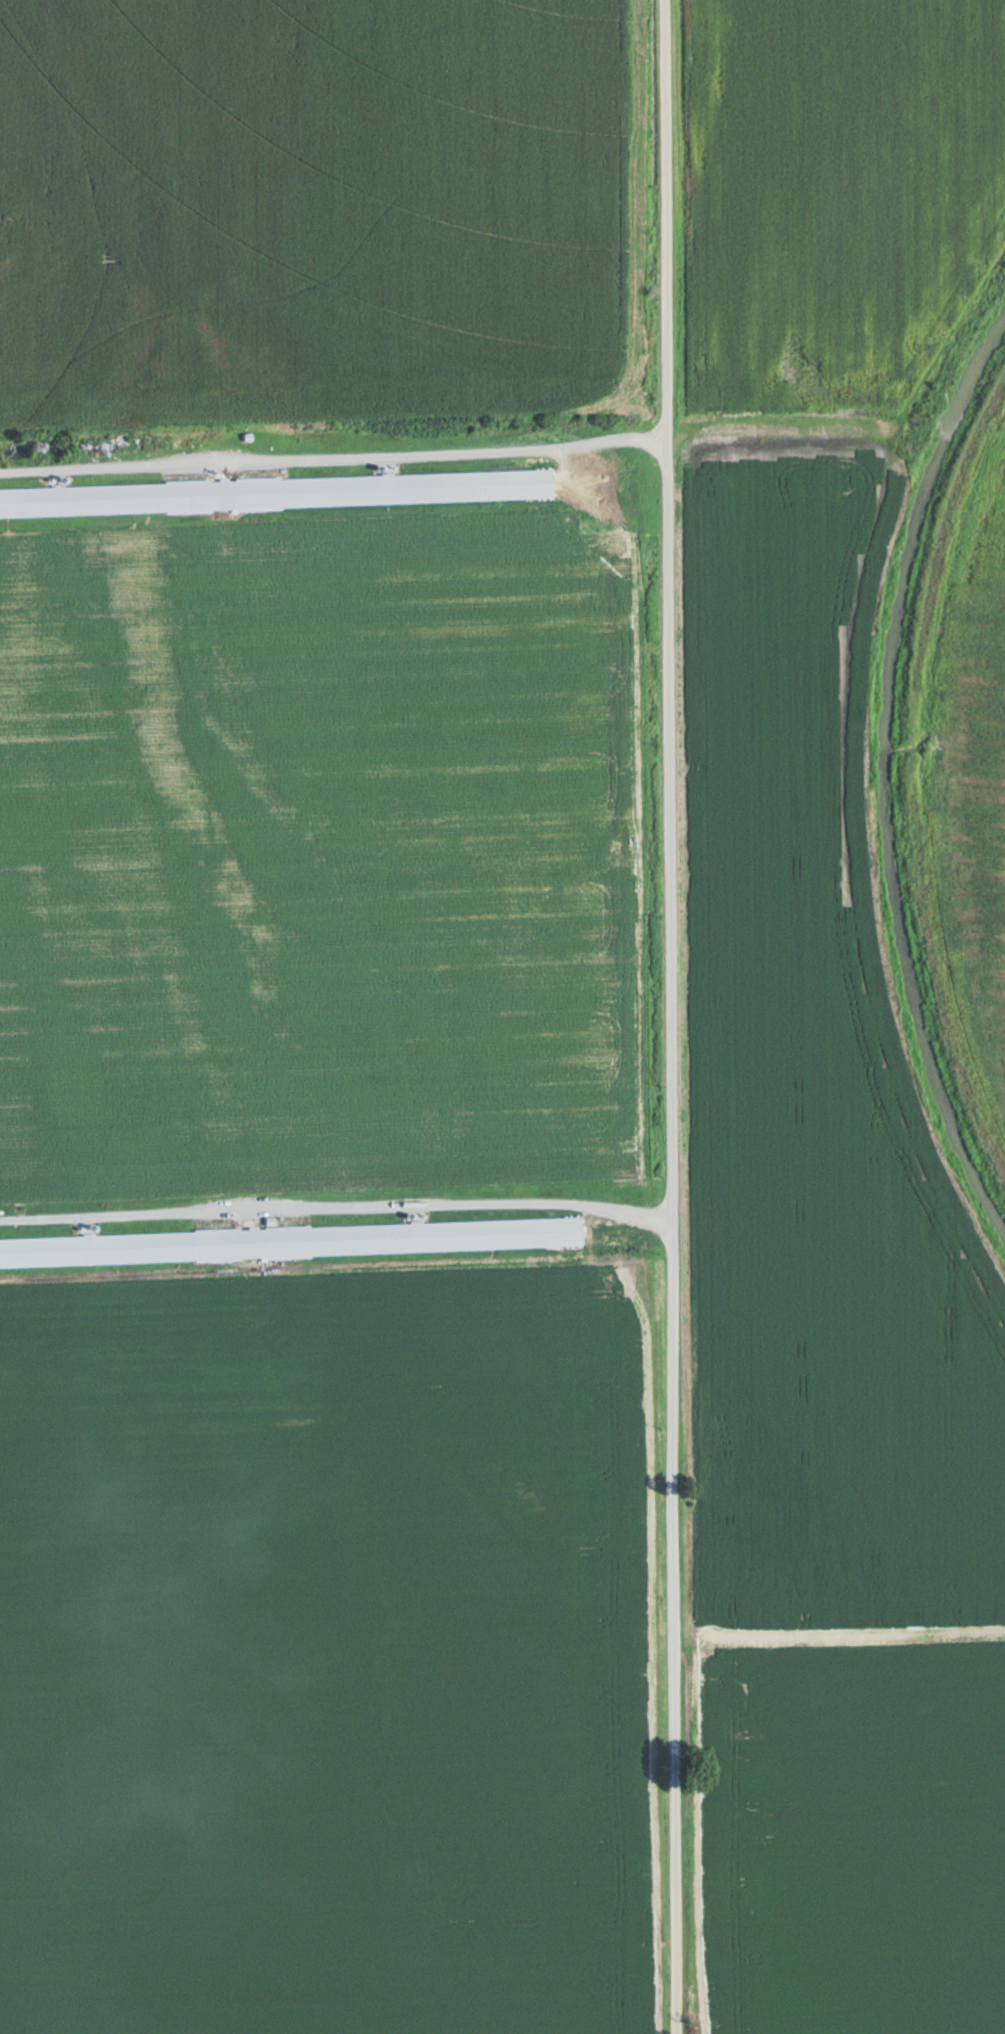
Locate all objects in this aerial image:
road: (334, 456)
building: (257, 494)
road: (671, 1017)
road: (337, 1202)
building: (292, 1243)

